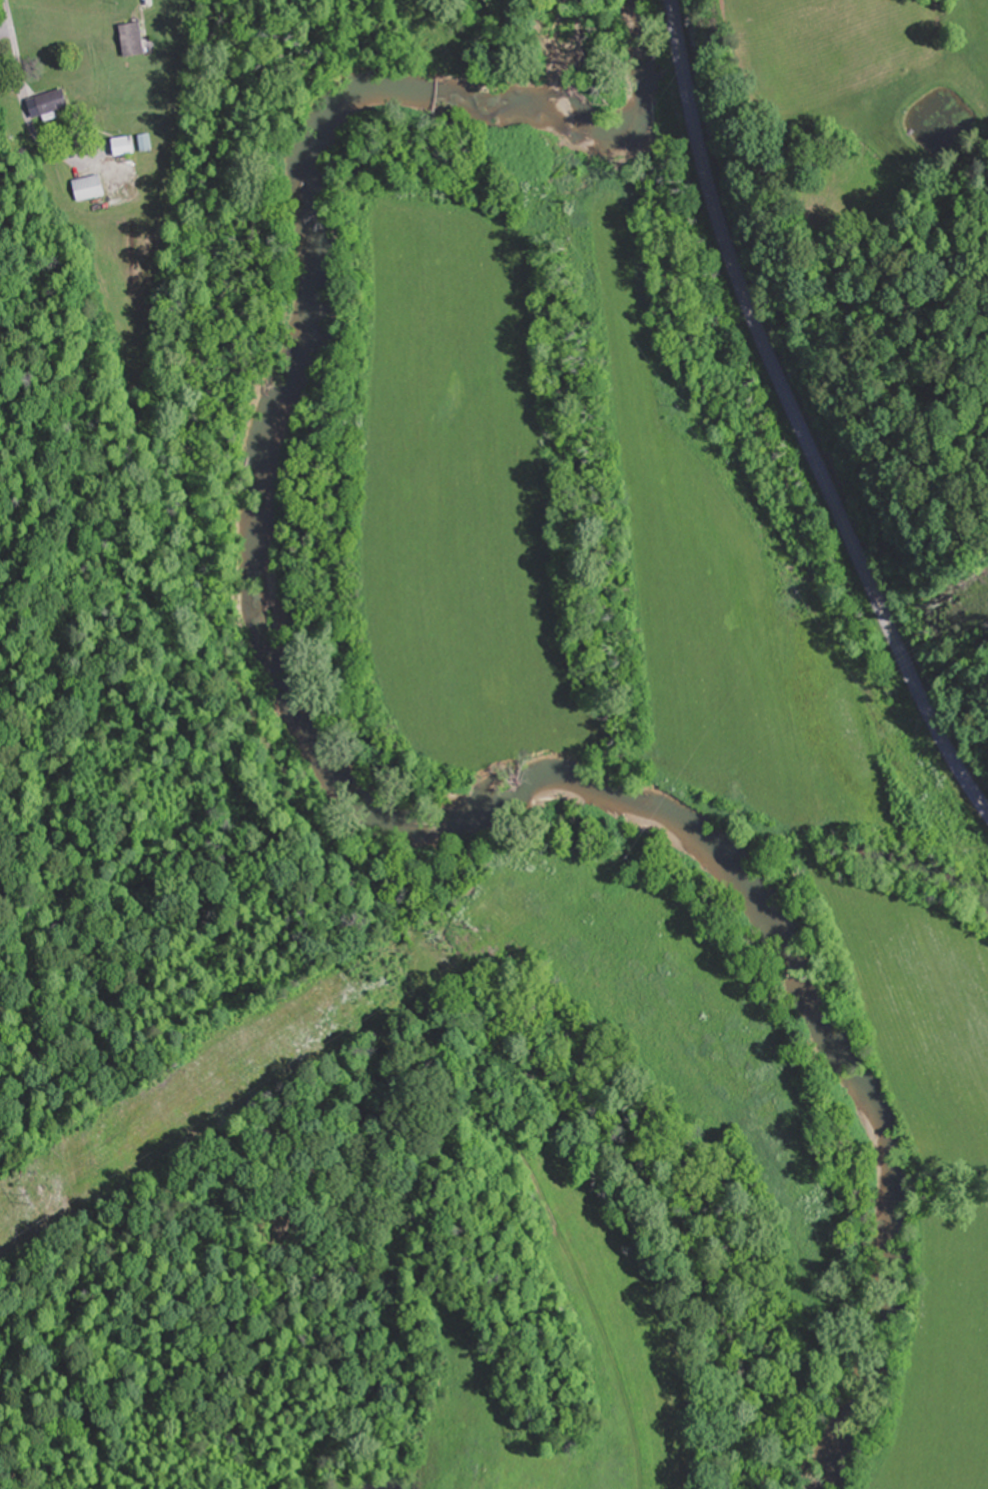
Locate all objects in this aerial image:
building: (136, 40)
road: (13, 41)
building: (49, 104)
building: (129, 146)
building: (92, 188)
road: (795, 419)
river: (340, 781)

